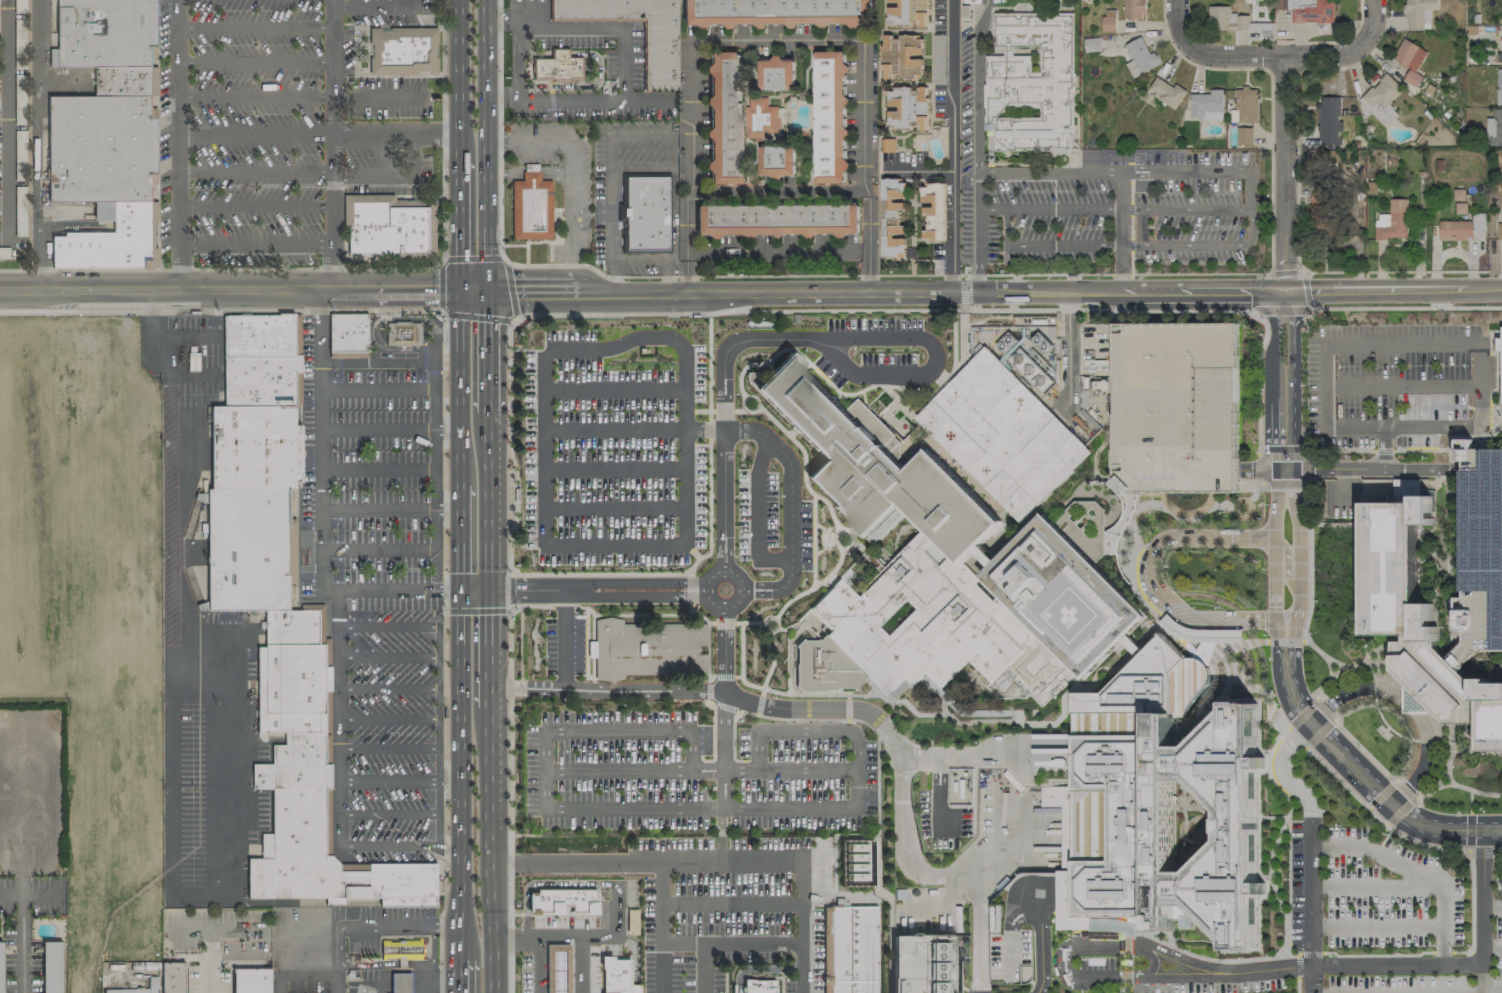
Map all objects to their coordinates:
parking lot: (992, 2)
road: (374, 6)
building: (1134, 9)
building: (778, 12)
building: (1314, 12)
road: (442, 13)
building: (908, 13)
building: (1419, 13)
road: (501, 18)
building: (1226, 19)
building: (1109, 20)
road: (257, 28)
road: (621, 30)
building: (103, 33)
road: (745, 44)
building: (1091, 44)
building: (403, 50)
road: (1348, 54)
building: (659, 55)
road: (1211, 55)
building: (901, 56)
building: (1140, 57)
building: (1499, 57)
building: (1410, 59)
road: (257, 60)
parking lot: (623, 64)
building: (557, 66)
road: (596, 68)
road: (517, 73)
road: (367, 74)
building: (776, 74)
road: (459, 78)
building: (121, 80)
building: (1029, 80)
building: (1499, 85)
building: (1166, 91)
road: (378, 96)
road: (257, 97)
road: (570, 98)
building: (1381, 99)
building: (1246, 104)
building: (1207, 105)
building: (723, 117)
building: (830, 117)
building: (760, 118)
building: (1328, 120)
road: (4, 122)
road: (181, 122)
road: (333, 122)
building: (1494, 128)
road: (320, 134)
building: (1244, 135)
road: (640, 136)
building: (101, 137)
road: (38, 141)
road: (488, 143)
road: (977, 144)
road: (951, 145)
building: (776, 161)
road: (641, 168)
road: (917, 169)
road: (1203, 170)
road: (1284, 170)
road: (256, 171)
road: (395, 172)
road: (504, 173)
road: (1049, 173)
road: (530, 174)
road: (553, 174)
road: (393, 176)
road: (442, 184)
road: (779, 189)
road: (1121, 190)
parking lot: (1097, 201)
road: (256, 204)
road: (1049, 209)
road: (1184, 209)
building: (933, 211)
road: (610, 212)
building: (645, 213)
road: (673, 213)
building: (777, 220)
building: (1392, 220)
road: (460, 222)
building: (526, 222)
building: (385, 224)
building: (131, 226)
road: (1004, 226)
road: (1121, 226)
road: (1141, 226)
road: (442, 227)
building: (1499, 229)
road: (568, 230)
road: (1201, 241)
road: (869, 242)
road: (1063, 243)
road: (257, 244)
road: (773, 250)
road: (473, 258)
road: (639, 260)
road: (1121, 266)
road: (166, 269)
road: (79, 270)
road: (1285, 271)
road: (688, 273)
road: (931, 274)
road: (1392, 280)
road: (1202, 282)
road: (230, 285)
road: (442, 285)
traffic signals: (460, 288)
road: (474, 288)
traffic signals: (488, 288)
road: (804, 289)
road: (1377, 289)
road: (510, 290)
road: (1305, 290)
road: (964, 291)
road: (1203, 291)
road: (1392, 297)
road: (1201, 300)
road: (1405, 307)
road: (1056, 309)
road: (852, 310)
road: (1186, 311)
road: (1282, 311)
road: (220, 312)
road: (655, 314)
road: (442, 319)
road: (474, 320)
road: (1263, 325)
road: (374, 326)
building: (404, 333)
building: (350, 335)
road: (443, 337)
road: (182, 338)
building: (1040, 342)
road: (489, 349)
parking lot: (875, 351)
road: (1068, 352)
road: (348, 357)
building: (258, 358)
parking lot: (189, 362)
road: (403, 362)
road: (926, 362)
building: (1501, 364)
road: (425, 365)
road: (338, 367)
road: (190, 376)
road: (444, 381)
parking lot: (1397, 383)
road: (461, 385)
road: (723, 385)
road: (1398, 386)
road: (378, 388)
road: (1494, 389)
road: (615, 390)
road: (1259, 397)
road: (1284, 397)
road: (1445, 406)
building: (1176, 407)
parking garage: (1176, 407)
road: (1497, 408)
road: (701, 410)
road: (722, 410)
road: (740, 410)
road: (1492, 410)
road: (1302, 411)
road: (709, 420)
road: (444, 427)
road: (1475, 428)
road: (615, 429)
road: (391, 430)
building: (1002, 433)
road: (790, 434)
road: (321, 438)
road: (709, 438)
road: (1472, 438)
building: (257, 446)
road: (507, 448)
parking lot: (612, 448)
road: (1383, 449)
road: (1425, 450)
road: (1381, 451)
road: (435, 454)
road: (1280, 454)
road: (804, 463)
road: (443, 466)
road: (614, 467)
road: (1302, 468)
road: (1450, 468)
road: (378, 470)
road: (1367, 470)
road: (1262, 471)
building: (877, 472)
road: (542, 476)
road: (790, 486)
road: (1284, 488)
road: (489, 501)
road: (709, 502)
road: (1234, 503)
road: (443, 505)
road: (391, 509)
road: (613, 509)
road: (757, 509)
road: (828, 510)
parking lot: (771, 524)
road: (824, 528)
road: (461, 537)
road: (1124, 537)
road: (444, 546)
road: (856, 546)
road: (719, 547)
road: (726, 547)
road: (824, 547)
road: (379, 548)
building: (1482, 548)
parking garage: (1482, 548)
building: (248, 550)
road: (1284, 561)
road: (1272, 568)
road: (1296, 568)
road: (832, 569)
road: (1152, 572)
road: (608, 574)
road: (708, 579)
road: (829, 579)
road: (630, 581)
road: (1309, 585)
road: (697, 586)
road: (762, 586)
road: (511, 587)
road: (392, 590)
traffic signals: (462, 590)
road: (444, 591)
traffic signals: (490, 591)
road: (517, 591)
road: (690, 591)
road: (763, 594)
road: (639, 597)
road: (562, 606)
road: (477, 609)
road: (641, 614)
helipad: (1078, 614)
building: (1417, 618)
building: (973, 619)
road: (349, 622)
road: (511, 622)
road: (723, 622)
road: (752, 623)
road: (326, 624)
road: (789, 625)
road: (390, 626)
road: (765, 629)
road: (346, 635)
road: (559, 641)
road: (1283, 641)
parking lot: (564, 644)
building: (648, 647)
road: (489, 648)
building: (590, 649)
road: (723, 651)
road: (1215, 656)
road: (390, 658)
road: (772, 659)
road: (1120, 663)
road: (727, 675)
building: (1187, 683)
road: (509, 686)
road: (390, 687)
road: (442, 687)
road: (762, 687)
road: (1254, 688)
road: (710, 689)
road: (1403, 689)
road: (666, 691)
building: (1131, 695)
road: (760, 701)
road: (1407, 704)
road: (847, 706)
road: (1324, 707)
road: (723, 708)
road: (1300, 711)
road: (982, 713)
road: (390, 718)
road: (340, 719)
road: (1320, 733)
road: (439, 737)
road: (1296, 737)
road: (389, 747)
road: (1366, 750)
road: (489, 752)
road: (959, 752)
road: (855, 753)
road: (542, 756)
parking lot: (208, 757)
road: (170, 758)
road: (707, 766)
road: (617, 767)
parking lot: (616, 769)
road: (1281, 769)
building: (295, 770)
road: (460, 773)
road: (510, 775)
parking lot: (803, 775)
road: (1361, 776)
road: (443, 777)
road: (400, 781)
road: (1451, 782)
road: (1345, 787)
road: (938, 789)
road: (1258, 789)
road: (1406, 789)
road: (1485, 792)
road: (1381, 794)
road: (899, 804)
road: (809, 808)
road: (1401, 811)
road: (389, 812)
parking lot: (940, 812)
road: (443, 813)
building: (1162, 819)
building: (1063, 820)
building: (1225, 824)
building: (1093, 825)
road: (1389, 827)
road: (1468, 830)
road: (718, 836)
building: (1113, 839)
road: (1419, 843)
road: (1273, 845)
road: (1258, 846)
road: (997, 847)
road: (399, 848)
road: (443, 849)
road: (1483, 849)
road: (1501, 849)
road: (640, 859)
road: (689, 859)
building: (854, 862)
road: (509, 863)
road: (1414, 869)
road: (20, 881)
building: (402, 884)
road: (547, 884)
road: (801, 887)
road: (1374, 888)
road: (1287, 891)
road: (1308, 893)
road: (489, 896)
building: (563, 901)
road: (730, 902)
parking lot: (722, 904)
road: (1472, 906)
road: (1491, 907)
road: (1259, 913)
road: (446, 922)
road: (440, 923)
road: (386, 924)
road: (1010, 924)
road: (214, 926)
road: (616, 926)
road: (1376, 926)
road: (1171, 933)
road: (510, 935)
road: (564, 935)
road: (1153, 938)
road: (725, 942)
road: (337, 944)
road: (1491, 945)
building: (400, 949)
building: (848, 949)
road: (1045, 950)
road: (1226, 950)
road: (1444, 952)
parking lot: (1009, 953)
road: (1297, 954)
road: (431, 955)
road: (1289, 955)
road: (1377, 956)
road: (203, 959)
road: (631, 959)
parking lot: (810, 959)
road: (1060, 959)
road: (1123, 960)
road: (1210, 960)
road: (399, 963)
road: (385, 964)
road: (538, 964)
building: (923, 964)
road: (1151, 964)
road: (356, 965)
road: (1461, 965)
building: (51, 966)
building: (556, 967)
building: (0, 968)
road: (760, 969)
road: (1277, 969)
road: (301, 973)
road: (459, 975)
building: (615, 975)
building: (172, 977)
road: (338, 978)
road: (422, 978)
road: (1480, 978)
building: (251, 980)
road: (1309, 980)
building: (401, 983)
road: (440, 983)
building: (139, 985)
road: (1491, 985)
building: (757, 986)
road: (1297, 986)
road: (1395, 988)
road: (353, 990)
road: (1124, 990)

